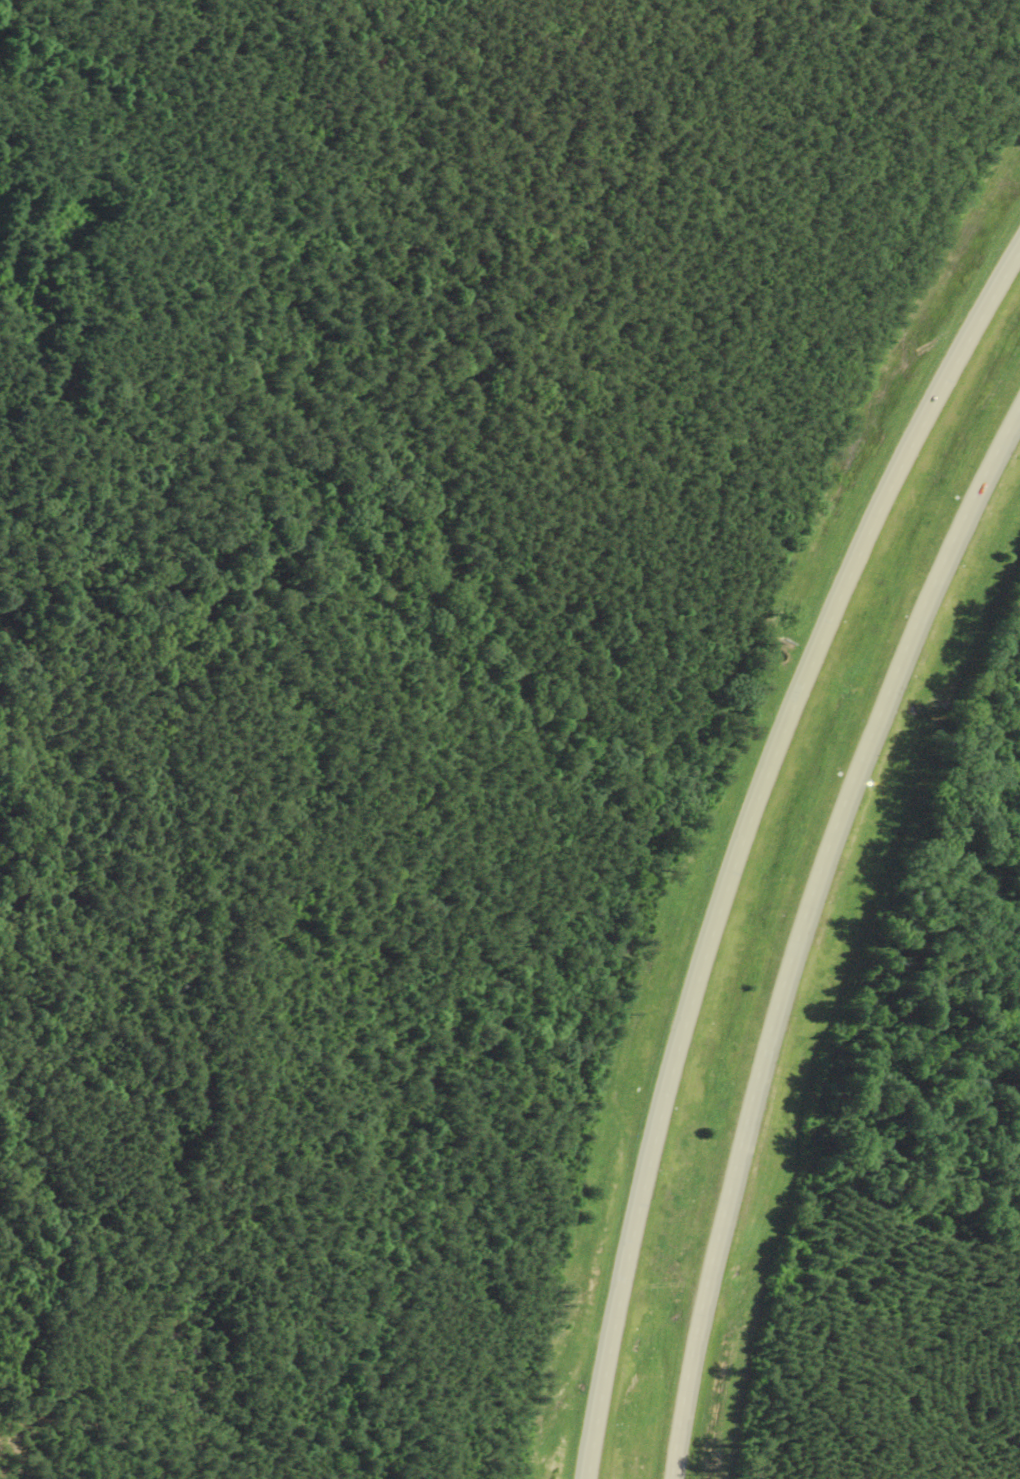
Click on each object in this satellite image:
road: (744, 843)
road: (803, 929)

